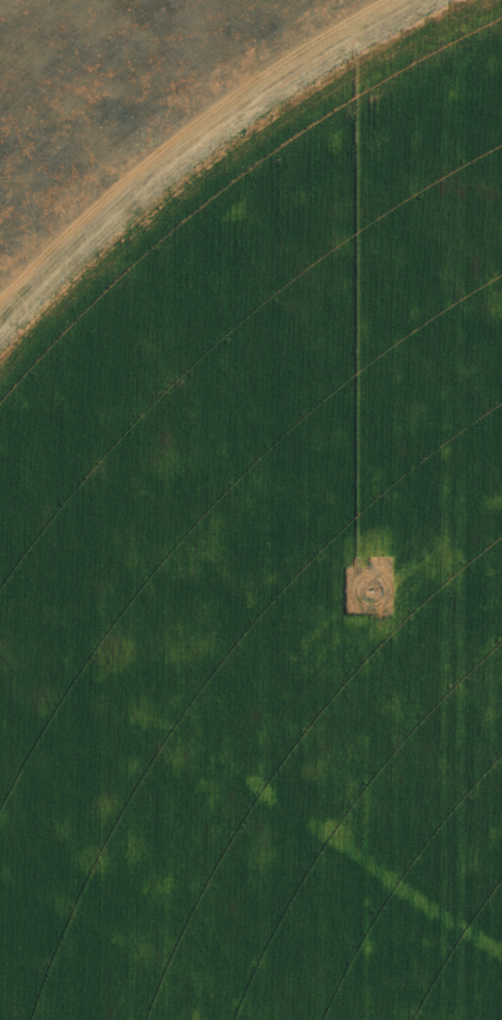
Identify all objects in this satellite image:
crop: (268, 580)

